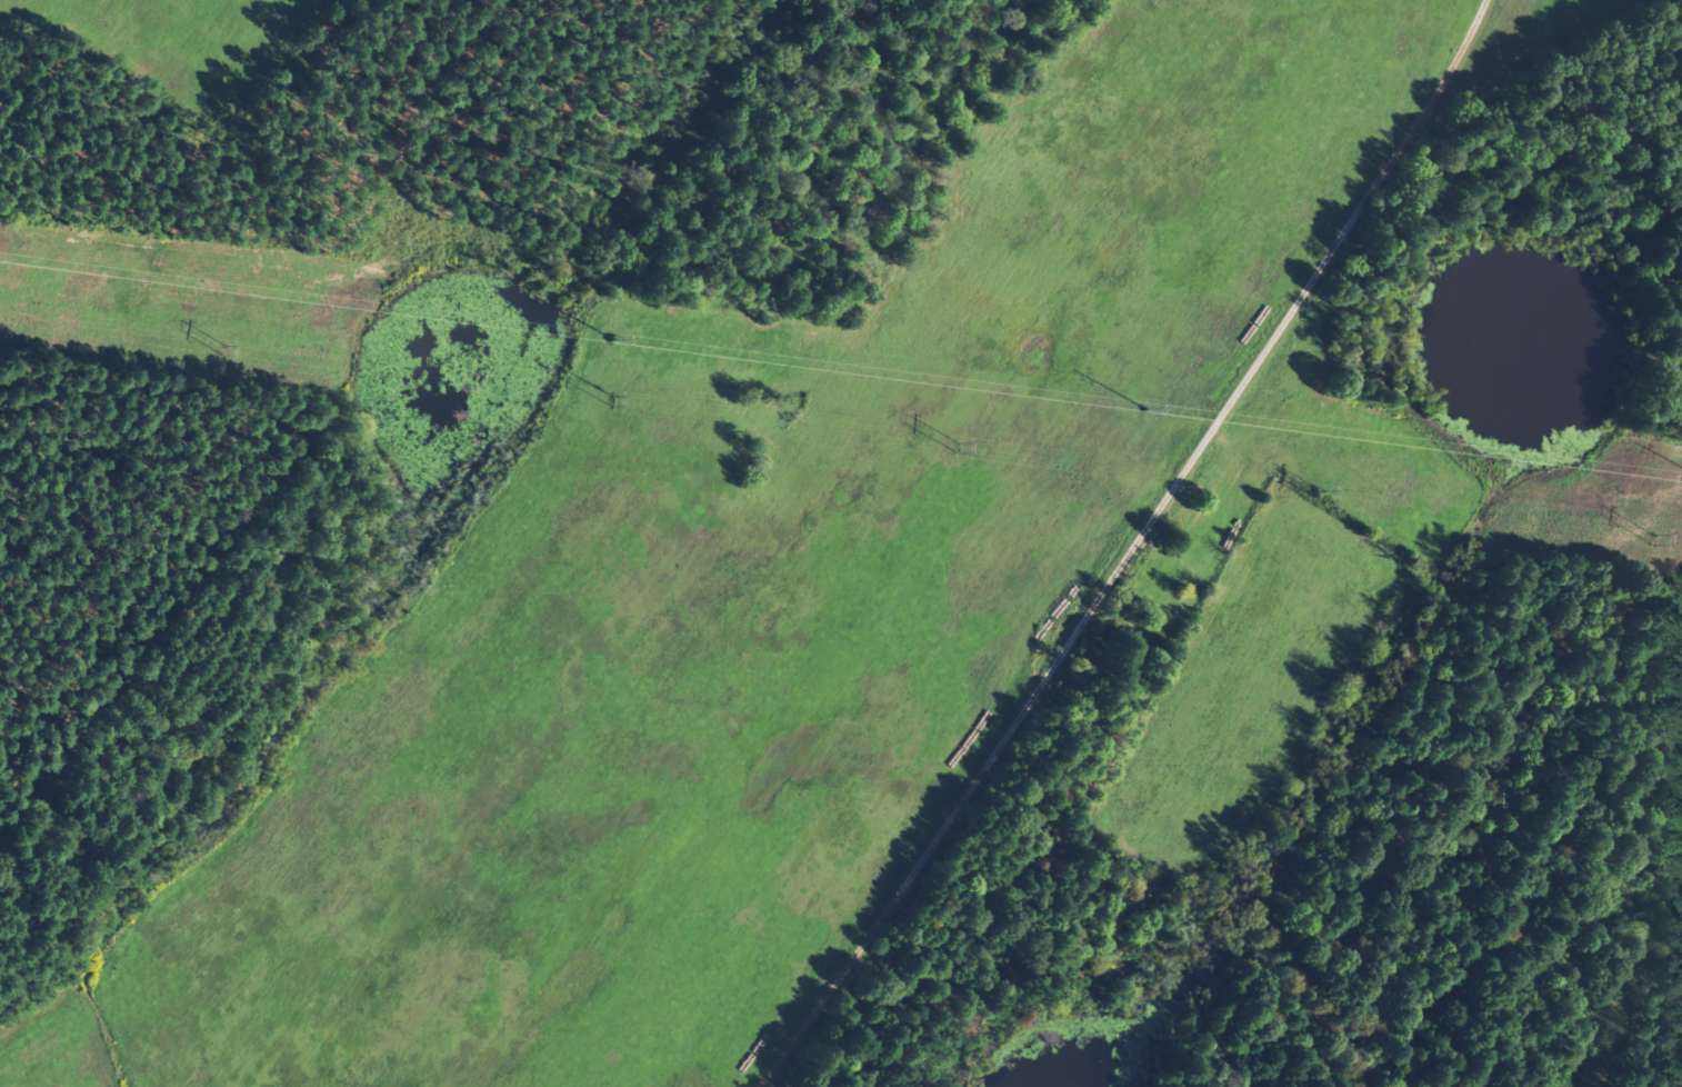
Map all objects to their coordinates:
power tower: (12, 258)
power tower: (613, 339)
power tower: (1147, 408)
road: (1134, 549)

